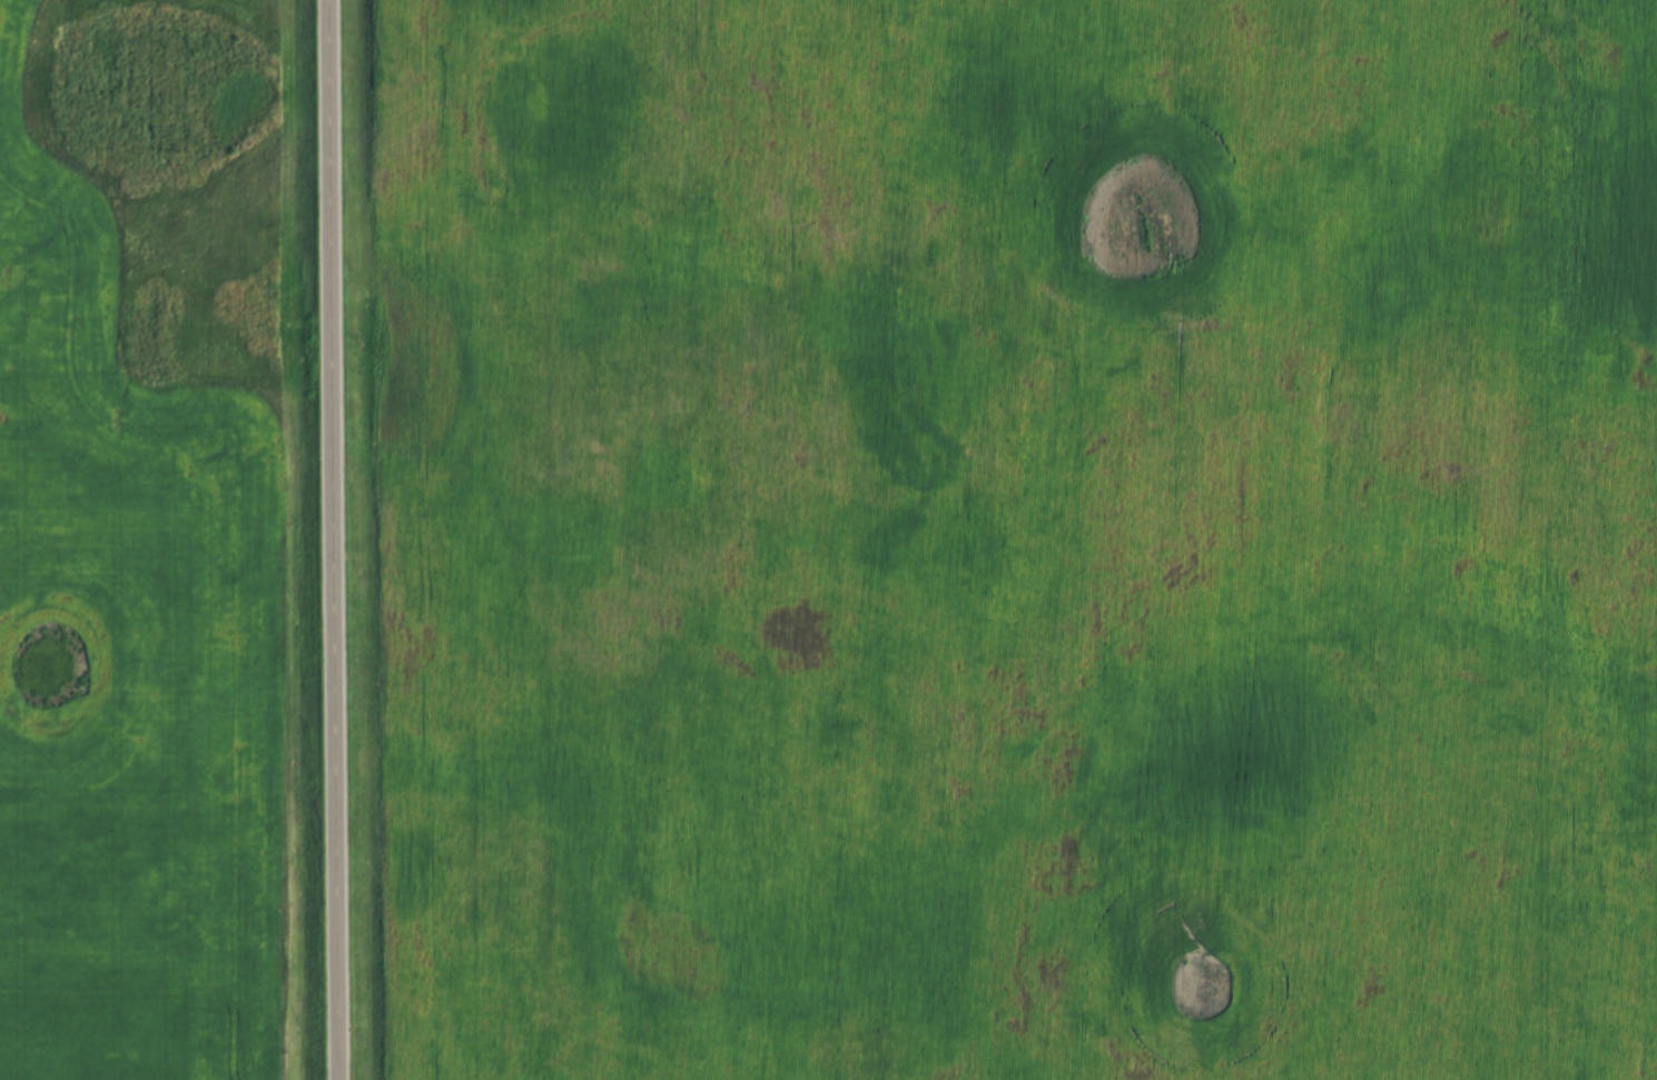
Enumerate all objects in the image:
road: (144, 228)
road: (303, 539)

